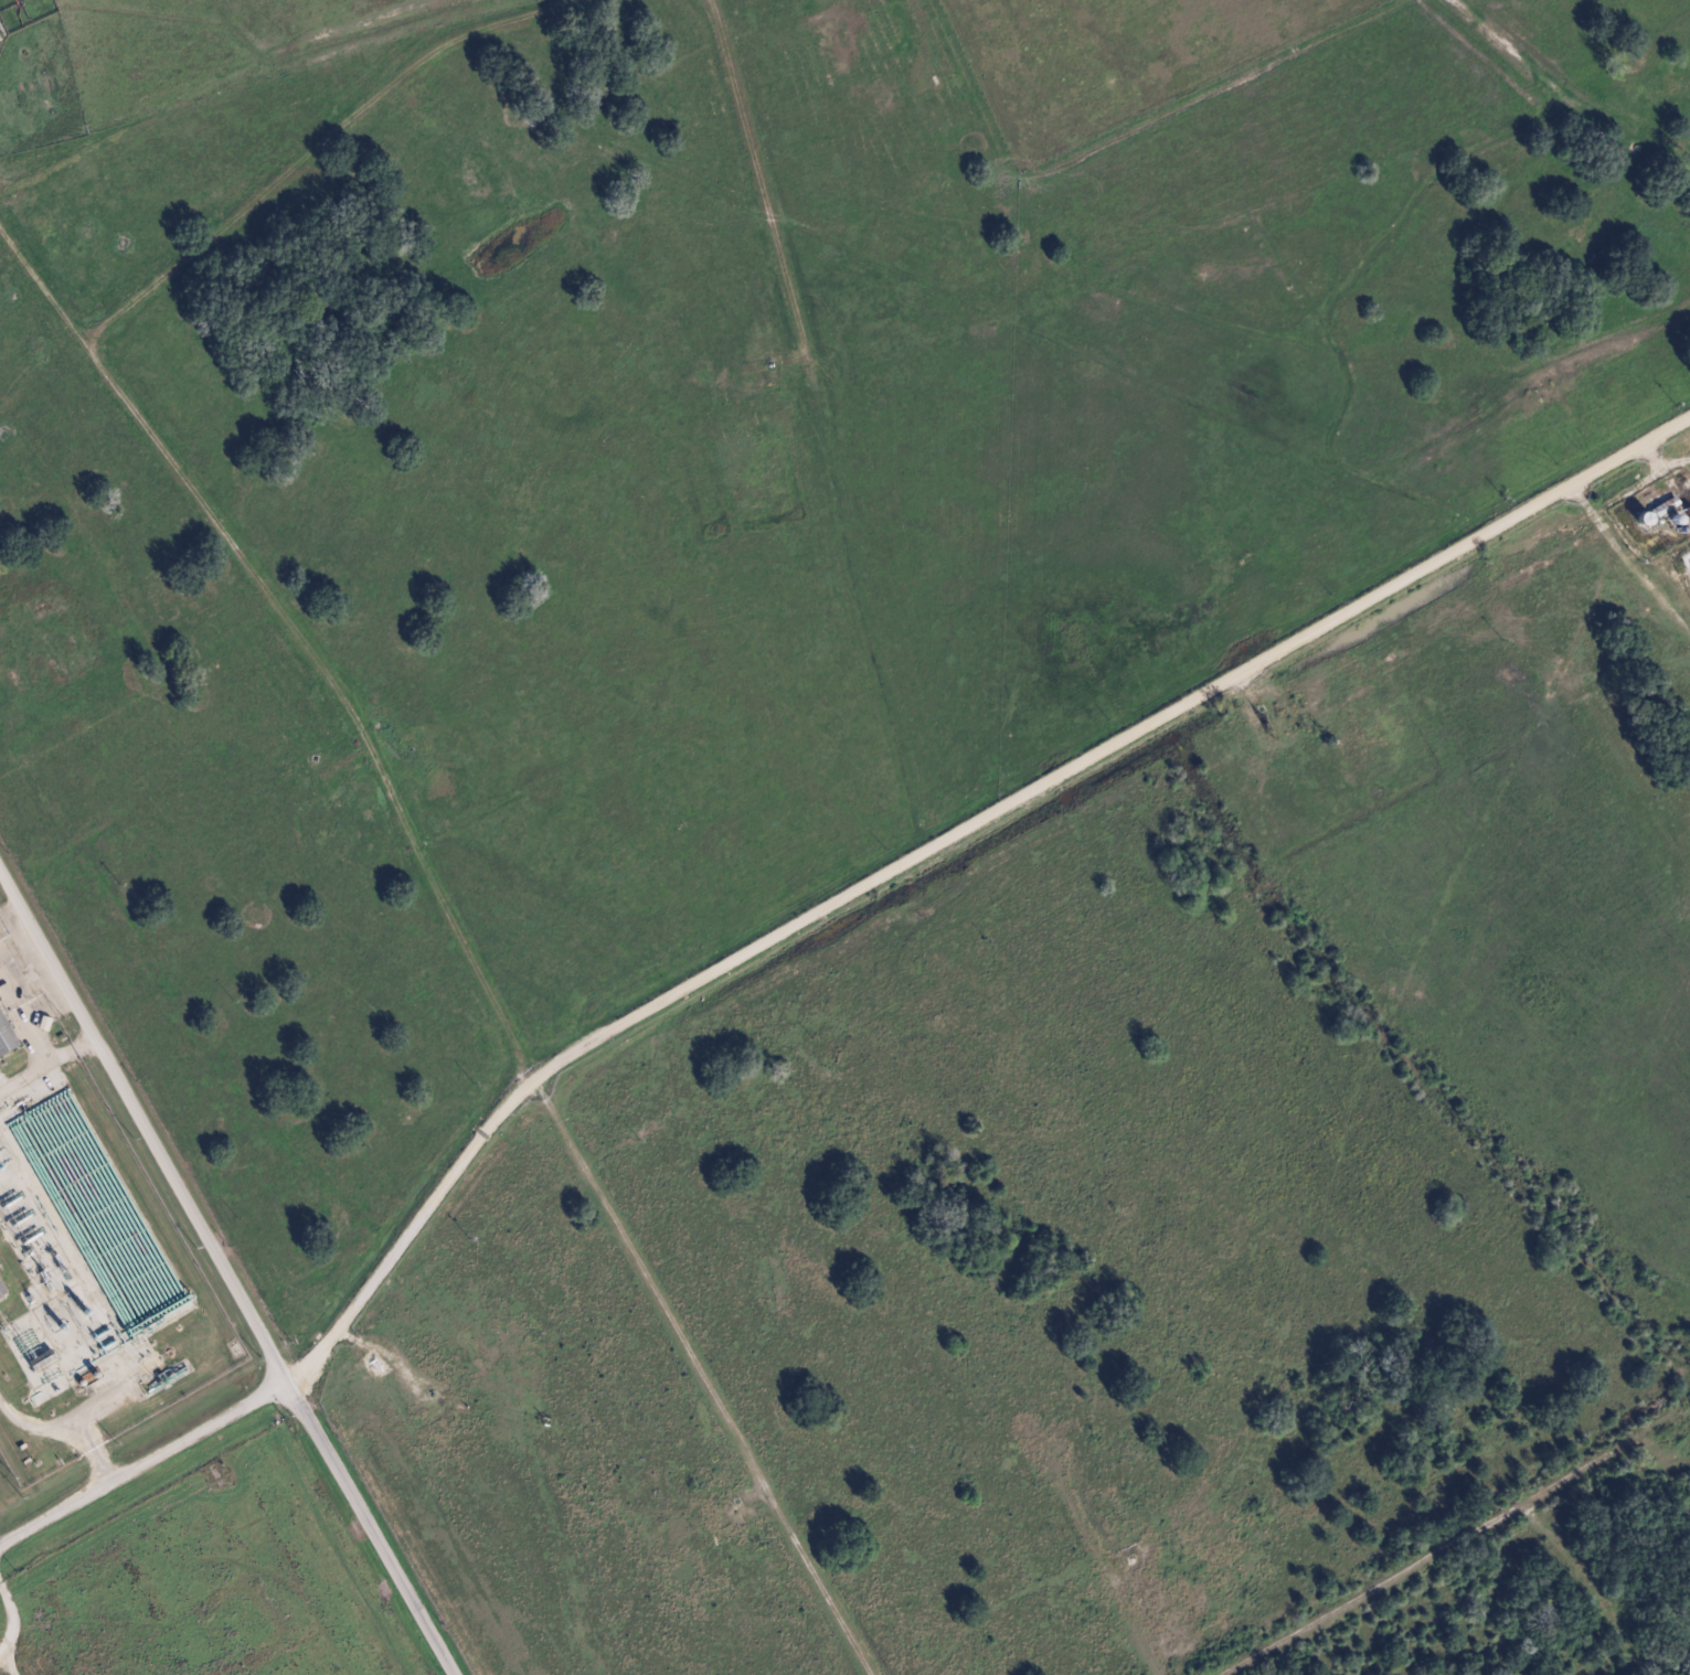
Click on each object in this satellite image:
road: (1631, 559)
road: (1113, 751)
building: (11, 995)
building: (6, 1038)
road: (47, 1065)
road: (144, 1124)
road: (410, 1235)
building: (1, 1290)
road: (703, 1378)
road: (68, 1421)
road: (141, 1465)
road: (368, 1529)
road: (1456, 1544)

